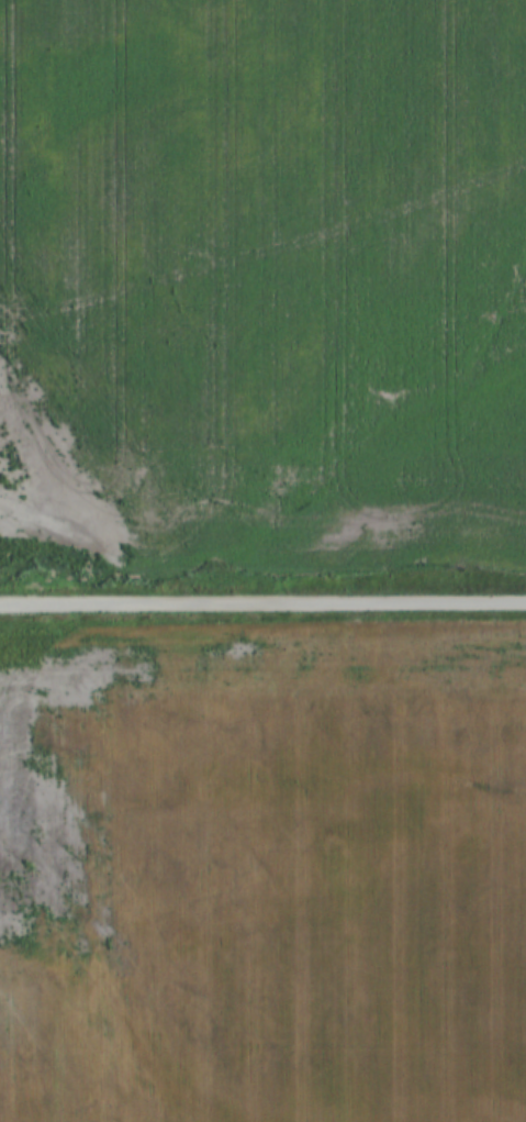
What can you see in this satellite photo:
road: (262, 603)

